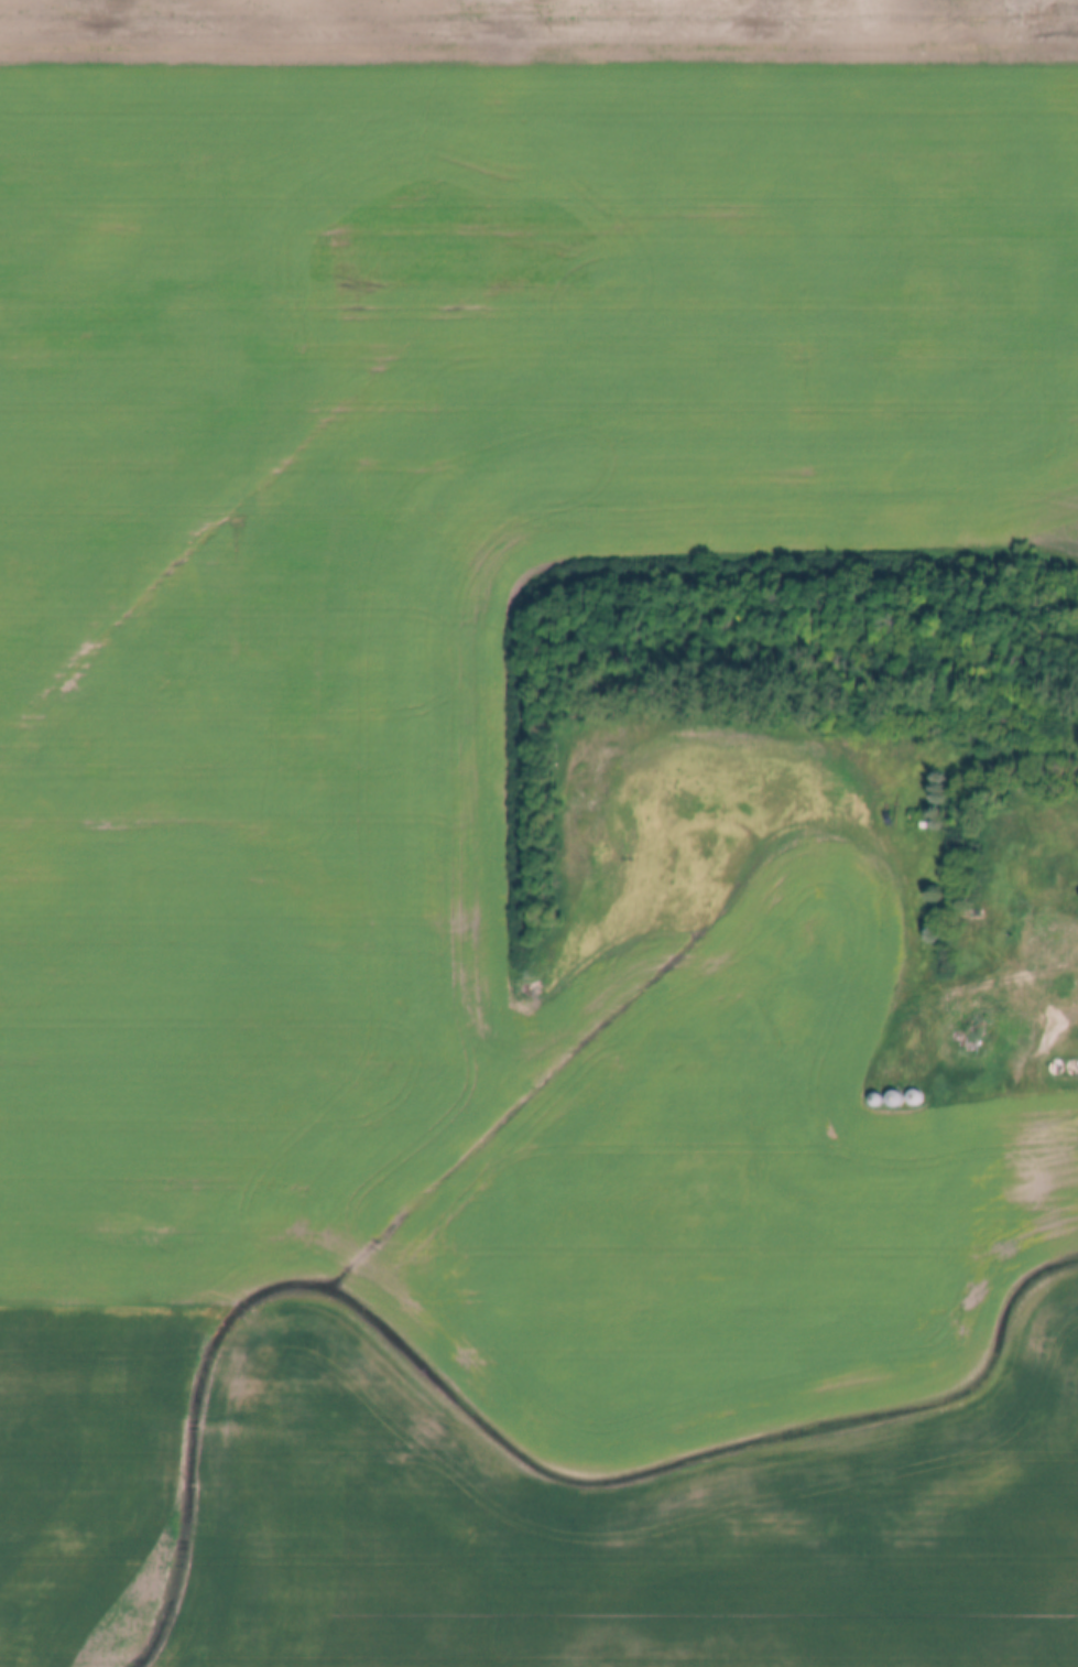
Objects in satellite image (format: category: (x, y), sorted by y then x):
building: (1044, 874)
road: (1030, 946)

